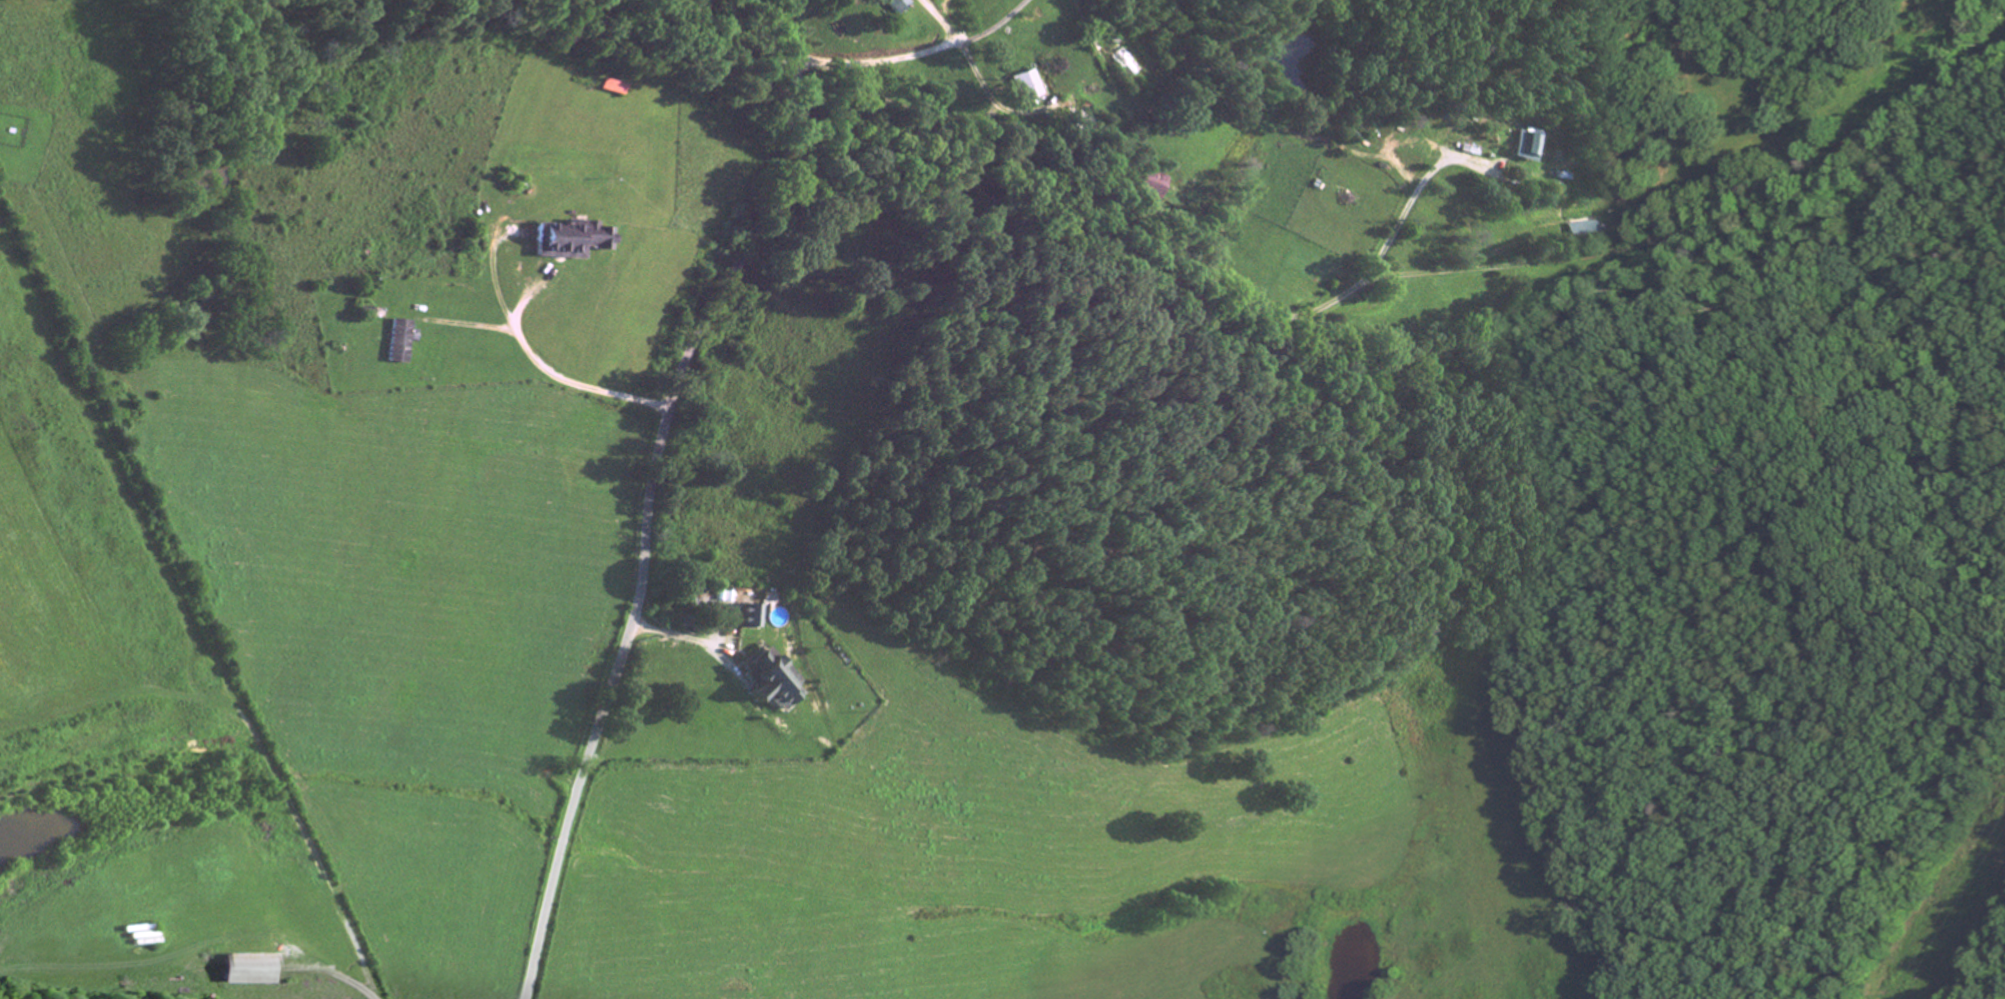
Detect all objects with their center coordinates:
building: (900, 6)
road: (915, 57)
building: (1032, 87)
building: (1534, 148)
building: (1155, 187)
building: (573, 241)
building: (404, 343)
road: (655, 481)
road: (1649, 570)
building: (757, 618)
building: (777, 683)
road: (938, 688)
road: (906, 820)
road: (1616, 880)
road: (751, 929)
building: (254, 971)

